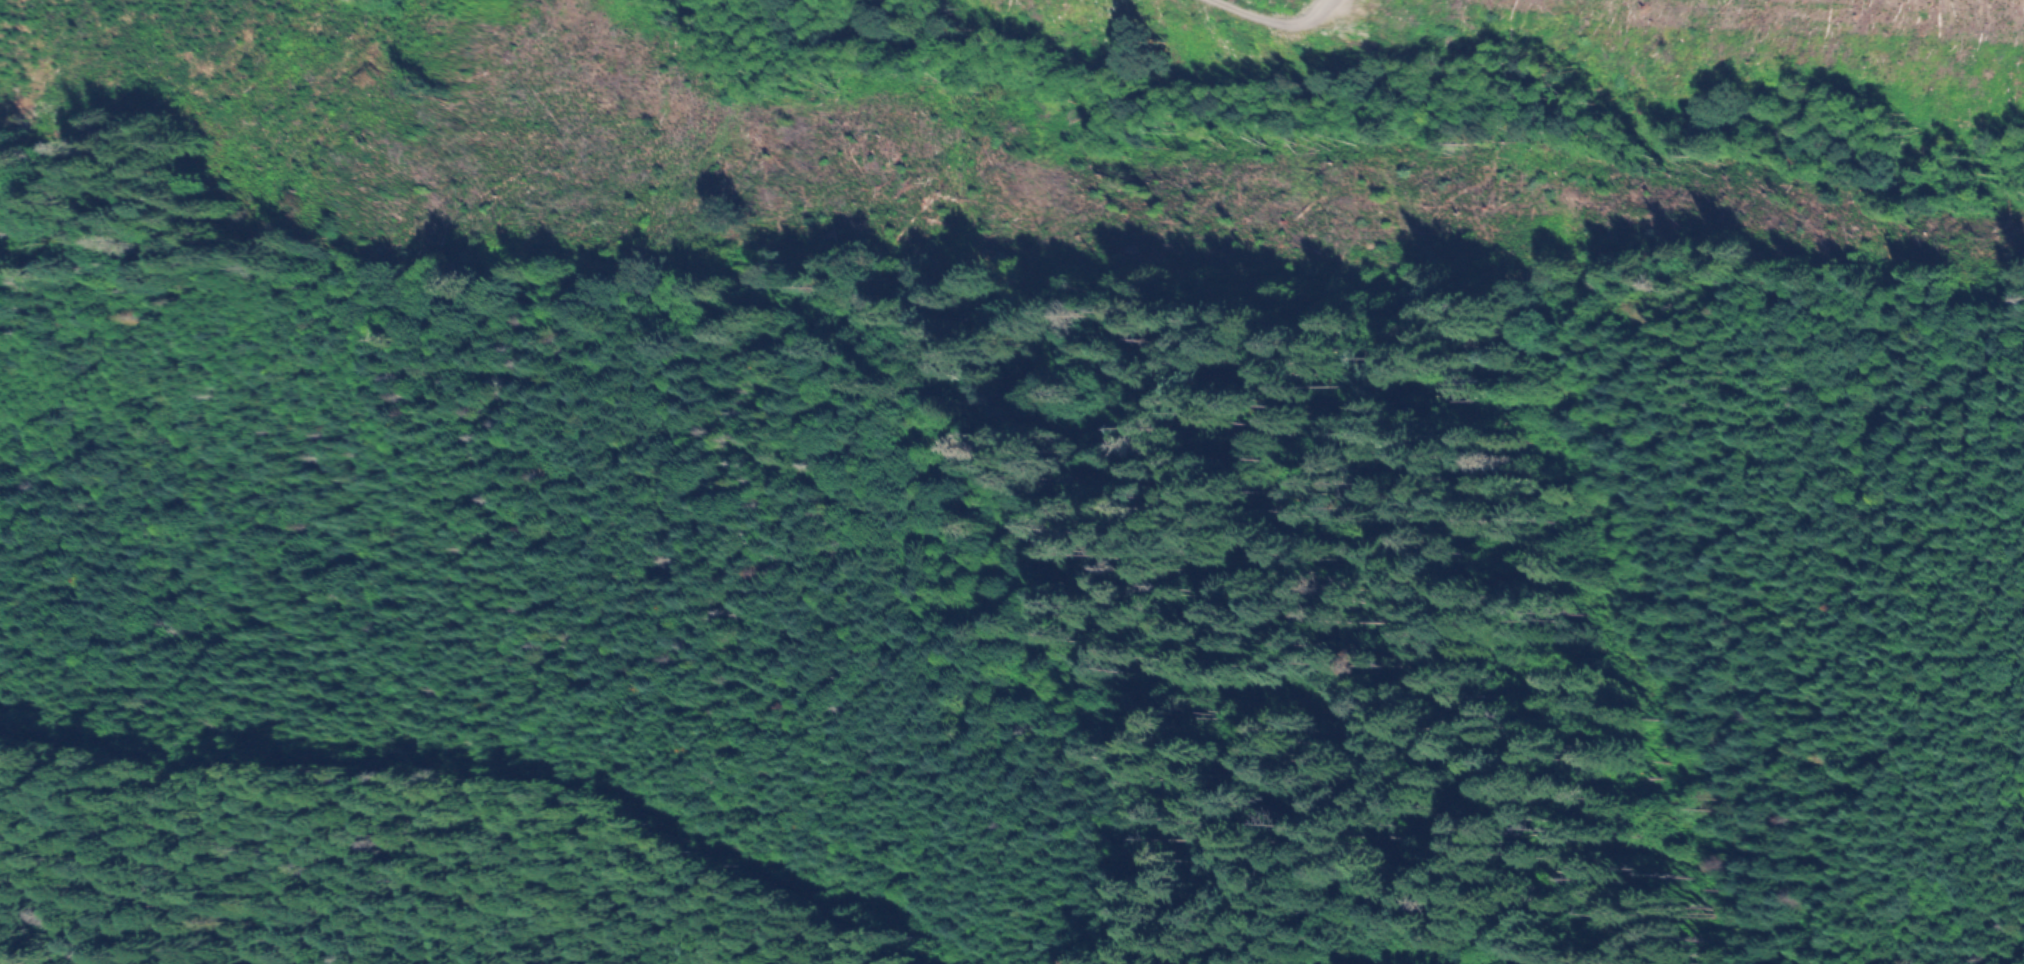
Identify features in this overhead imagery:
road: (1272, 20)
road: (750, 813)
road: (883, 871)

